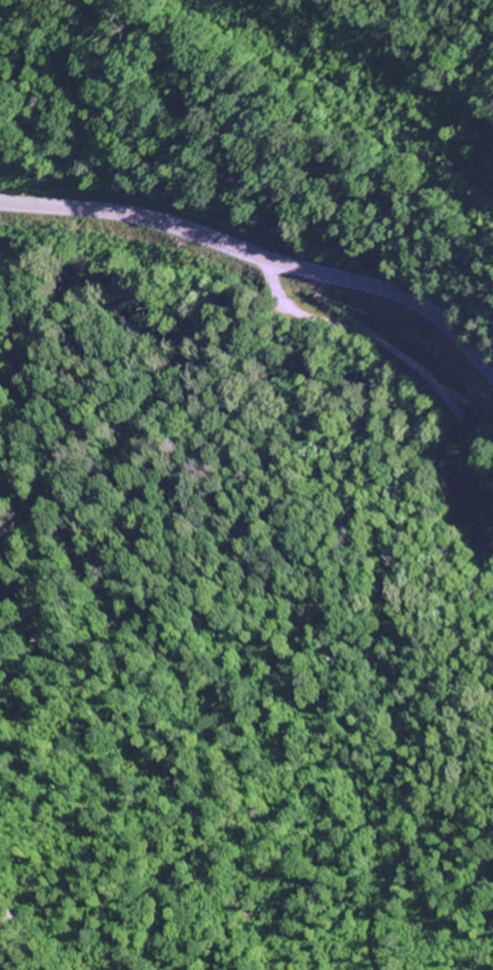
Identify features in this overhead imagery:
road: (260, 257)
road: (387, 353)

